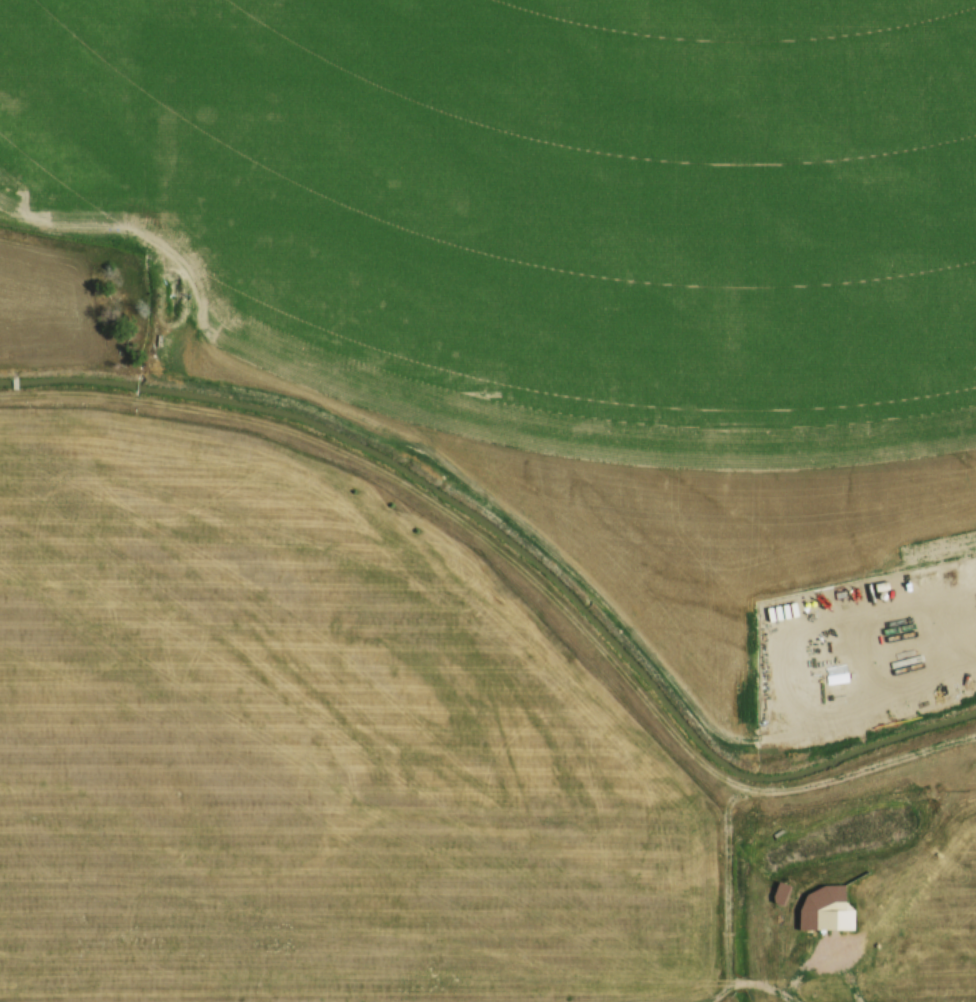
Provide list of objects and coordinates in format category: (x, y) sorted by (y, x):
building: (779, 893)
building: (823, 907)
road: (790, 996)

